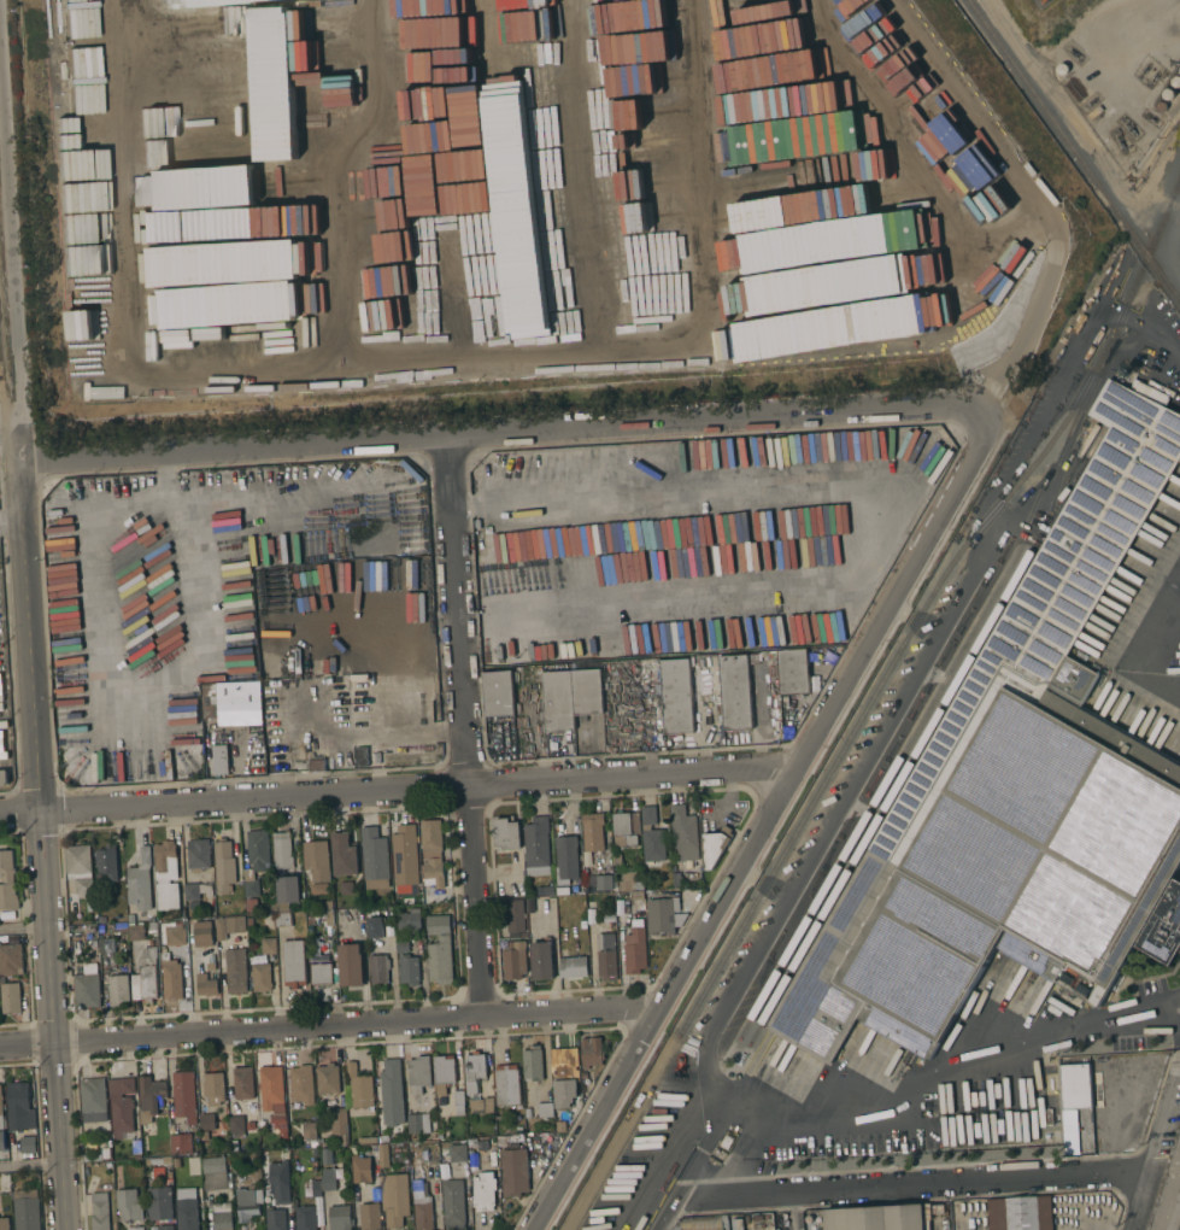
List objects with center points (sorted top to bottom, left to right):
petroleum well: (1073, 52)
petroleum well: (1144, 66)
petroleum well: (1152, 74)
storage tank: (1175, 81)
storage tank: (1168, 93)
petroleum well: (1088, 102)
railway: (1043, 106)
storage tank: (1161, 107)
petroleum well: (1127, 127)
petroleum well: (1117, 141)
railway: (1161, 227)
railway: (1149, 257)
building: (243, 264)
road: (7, 291)
road: (1035, 299)
road: (7, 421)
road: (510, 433)
road: (317, 508)
road: (10, 519)
road: (187, 539)
railway: (957, 662)
road: (909, 668)
building: (793, 670)
road: (307, 680)
building: (260, 681)
building: (736, 690)
building: (587, 691)
building: (499, 692)
building: (677, 695)
building: (558, 701)
building: (228, 715)
road: (464, 725)
railway: (927, 736)
road: (283, 756)
building: (360, 757)
building: (317, 765)
railway: (832, 773)
building: (4, 778)
road: (399, 792)
building: (1016, 799)
building: (626, 828)
building: (593, 831)
road: (759, 831)
building: (506, 833)
building: (683, 833)
building: (652, 838)
road: (43, 843)
building: (715, 845)
building: (536, 847)
building: (282, 850)
building: (199, 855)
building: (345, 855)
building: (432, 856)
building: (374, 859)
building: (404, 860)
building: (566, 860)
building: (107, 861)
building: (316, 861)
building: (254, 865)
building: (223, 866)
building: (80, 868)
building: (166, 877)
building: (140, 879)
building: (7, 881)
building: (603, 883)
building: (628, 883)
building: (287, 889)
building: (195, 890)
building: (282, 907)
building: (268, 908)
building: (663, 915)
building: (7, 916)
building: (131, 918)
building: (329, 918)
building: (513, 918)
building: (283, 920)
building: (409, 920)
building: (436, 924)
building: (229, 926)
building: (121, 927)
building: (152, 927)
building: (374, 927)
building: (100, 929)
road: (24, 930)
building: (135, 932)
building: (171, 932)
building: (202, 933)
building: (635, 938)
building: (107, 945)
building: (268, 945)
building: (403, 947)
building: (606, 956)
building: (164, 957)
building: (541, 959)
building: (11, 960)
building: (440, 960)
building: (516, 962)
building: (294, 963)
building: (350, 963)
building: (210, 966)
building: (573, 967)
building: (378, 968)
building: (409, 970)
building: (235, 971)
building: (321, 973)
building: (148, 974)
building: (260, 977)
building: (2, 979)
building: (171, 980)
building: (205, 984)
building: (87, 986)
building: (117, 989)
building: (10, 997)
road: (328, 1024)
building: (591, 1052)
building: (533, 1064)
building: (474, 1071)
road: (964, 1071)
building: (565, 1072)
building: (418, 1073)
building: (444, 1073)
building: (327, 1079)
building: (243, 1083)
building: (301, 1084)
building: (506, 1085)
building: (358, 1086)
building: (1076, 1086)
building: (213, 1088)
building: (271, 1089)
building: (392, 1093)
building: (183, 1095)
building: (151, 1097)
building: (458, 1097)
building: (93, 1100)
building: (122, 1103)
building: (481, 1105)
building: (18, 1106)
building: (545, 1109)
building: (528, 1112)
building: (207, 1121)
building: (418, 1123)
building: (1, 1124)
building: (236, 1124)
building: (339, 1126)
building: (560, 1126)
building: (309, 1129)
building: (283, 1134)
building: (204, 1135)
building: (383, 1138)
building: (501, 1141)
building: (136, 1142)
building: (28, 1143)
building: (181, 1143)
building: (477, 1143)
building: (374, 1148)
road: (711, 1150)
road: (1155, 1150)
building: (105, 1153)
building: (457, 1153)
building: (383, 1155)
building: (327, 1158)
building: (154, 1161)
building: (235, 1164)
road: (31, 1166)
building: (360, 1168)
building: (513, 1171)
building: (158, 1172)
building: (215, 1173)
building: (328, 1178)
building: (278, 1179)
building: (315, 1185)
building: (417, 1185)
road: (914, 1185)
building: (483, 1191)
building: (394, 1199)
building: (248, 1202)
building: (159, 1203)
building: (453, 1203)
building: (129, 1205)
building: (25, 1209)
building: (100, 1211)
road: (796, 1211)
building: (422, 1213)
building: (1020, 1213)
building: (187, 1214)
building: (222, 1216)
road: (670, 1216)
building: (339, 1217)
building: (369, 1217)
building: (305, 1218)
building: (809, 1218)
building: (882, 1218)
building: (275, 1219)
building: (4, 1224)
building: (699, 1225)
building: (165, 1226)
building: (135, 1228)

